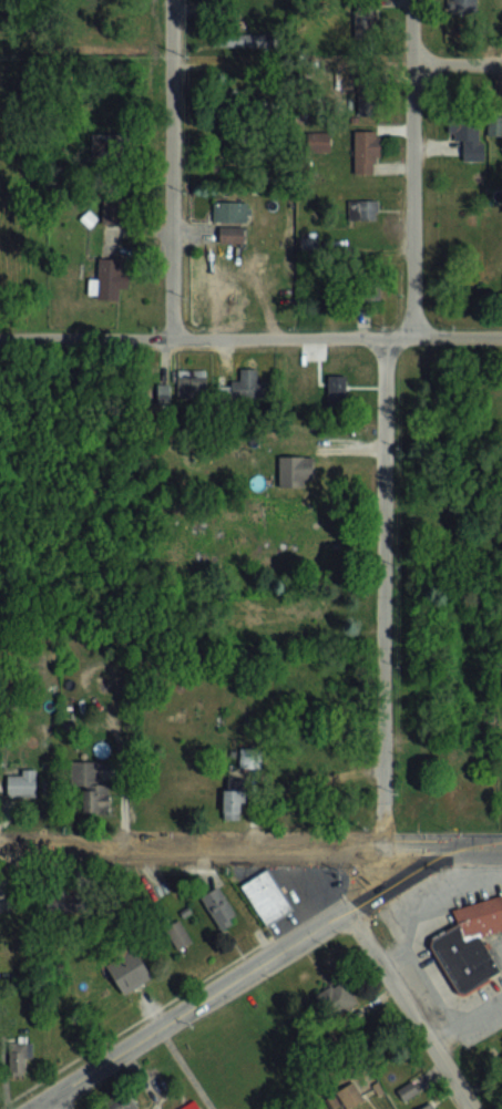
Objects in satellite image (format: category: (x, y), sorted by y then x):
building: (463, 8)
building: (363, 21)
building: (242, 40)
road: (457, 64)
building: (494, 125)
building: (467, 134)
building: (246, 135)
building: (106, 145)
building: (366, 152)
road: (411, 167)
road: (173, 168)
building: (362, 208)
building: (232, 213)
building: (232, 235)
building: (109, 279)
road: (250, 337)
building: (247, 386)
building: (192, 388)
building: (156, 394)
building: (295, 472)
building: (437, 531)
road: (383, 593)
building: (247, 608)
building: (311, 609)
building: (458, 752)
building: (313, 768)
building: (21, 783)
building: (90, 787)
building: (233, 799)
building: (470, 803)
building: (413, 808)
road: (250, 848)
road: (488, 863)
building: (265, 896)
building: (70, 902)
building: (219, 908)
building: (177, 935)
building: (467, 943)
road: (406, 945)
building: (129, 972)
road: (240, 979)
road: (409, 983)
building: (336, 999)
road: (408, 1010)
building: (18, 1056)
road: (186, 1069)
building: (407, 1091)
road: (55, 1102)
building: (122, 1102)
building: (193, 1107)
building: (428, 1107)

